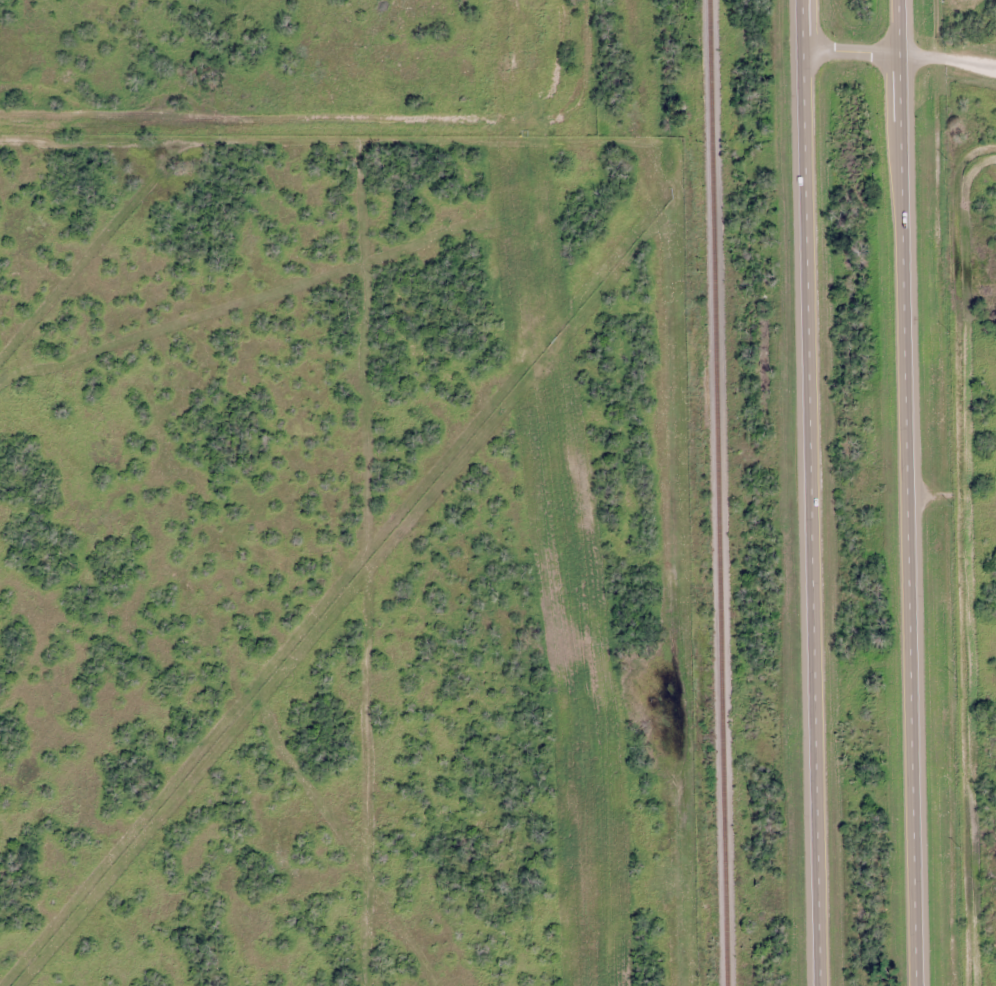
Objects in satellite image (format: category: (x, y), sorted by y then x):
road: (901, 54)
road: (282, 136)
railway: (724, 492)
road: (912, 492)
road: (811, 493)

